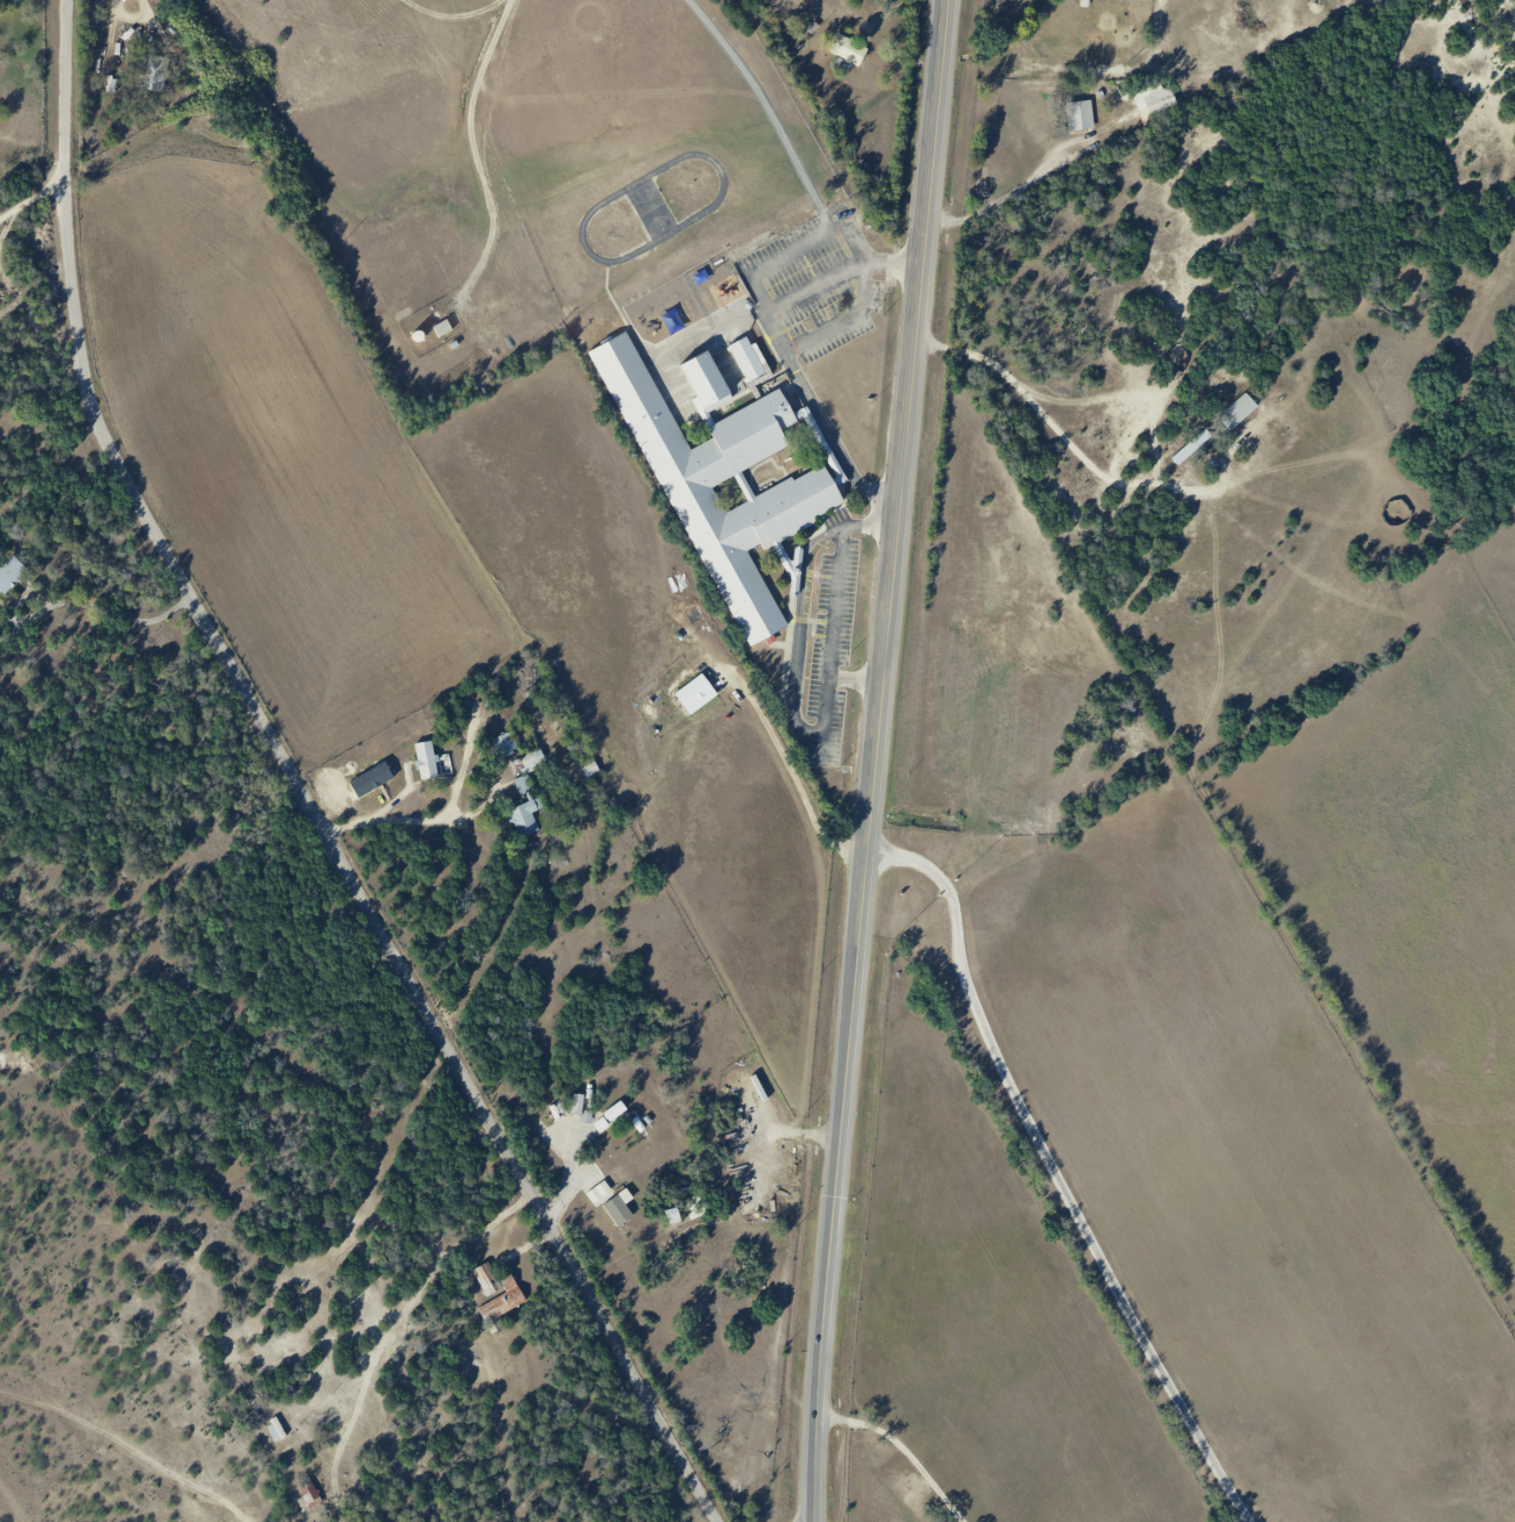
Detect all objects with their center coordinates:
building: (823, 0)
building: (559, 3)
building: (844, 48)
building: (524, 71)
building: (158, 76)
building: (1150, 102)
building: (1074, 115)
track: (659, 208)
track: (660, 208)
building: (675, 318)
building: (443, 329)
building: (752, 363)
building: (712, 390)
building: (1232, 412)
building: (1186, 449)
road: (908, 467)
building: (801, 500)
building: (10, 574)
building: (702, 697)
building: (498, 744)
building: (426, 761)
building: (533, 761)
building: (590, 769)
road: (308, 789)
building: (518, 816)
building: (579, 1107)
building: (615, 1113)
road: (1057, 1174)
building: (627, 1215)
road: (835, 1228)
building: (505, 1303)
building: (275, 1430)
road: (907, 1447)
building: (309, 1494)

